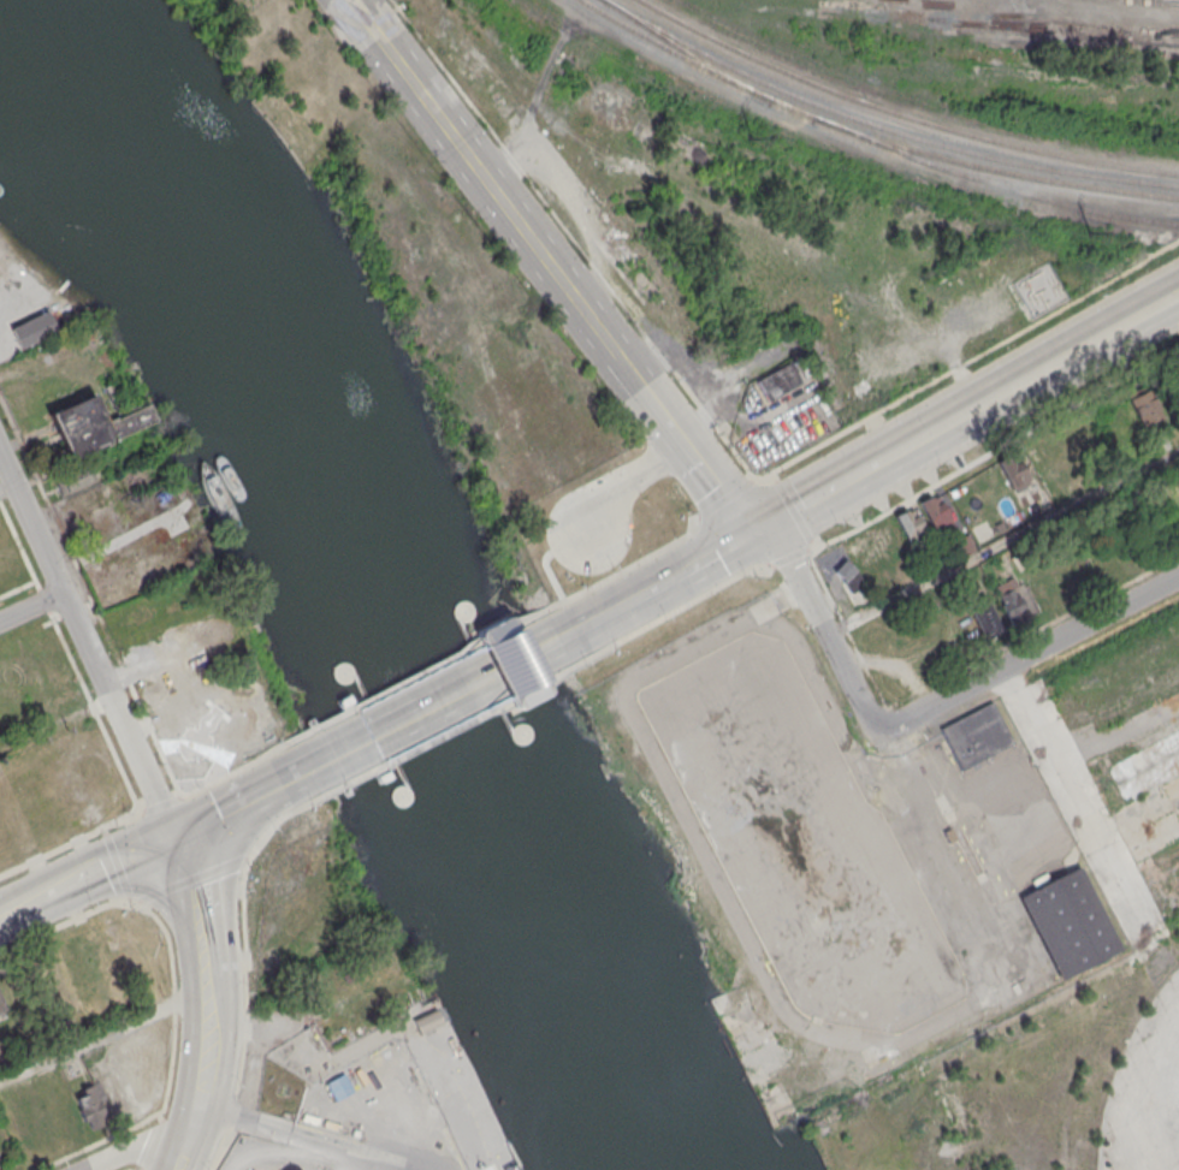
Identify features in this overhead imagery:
railway: (1154, 1)
river: (7, 42)
railway: (683, 53)
railway: (900, 115)
railway: (879, 127)
power tower: (747, 136)
railway: (867, 137)
railway: (990, 184)
power tower: (1082, 227)
road: (550, 269)
building: (32, 327)
road: (968, 363)
road: (1064, 367)
building: (777, 380)
building: (1143, 405)
building: (93, 424)
road: (923, 441)
building: (1159, 443)
road: (995, 452)
building: (1013, 470)
building: (71, 481)
road: (6, 483)
road: (829, 493)
road: (620, 495)
road: (727, 497)
building: (1178, 501)
building: (935, 511)
road: (790, 512)
road: (31, 523)
building: (910, 524)
building: (999, 525)
traffic signals: (760, 530)
road: (1001, 540)
road: (789, 559)
road: (634, 564)
building: (848, 575)
road: (662, 581)
river: (375, 582)
building: (1011, 602)
road: (31, 606)
road: (675, 610)
building: (985, 616)
road: (818, 620)
road: (550, 640)
road: (1025, 659)
road: (422, 675)
road: (466, 684)
road: (117, 717)
fountain: (206, 721)
park: (221, 721)
road: (449, 730)
building: (976, 734)
road: (349, 748)
road: (231, 772)
road: (159, 804)
road: (236, 808)
traffic signals: (172, 842)
road: (70, 843)
road: (105, 872)
road: (18, 910)
building: (1071, 921)
road: (209, 1005)
building: (0, 1006)
building: (426, 1020)
road: (102, 1031)
building: (89, 1109)
road: (288, 1130)
road: (140, 1144)

